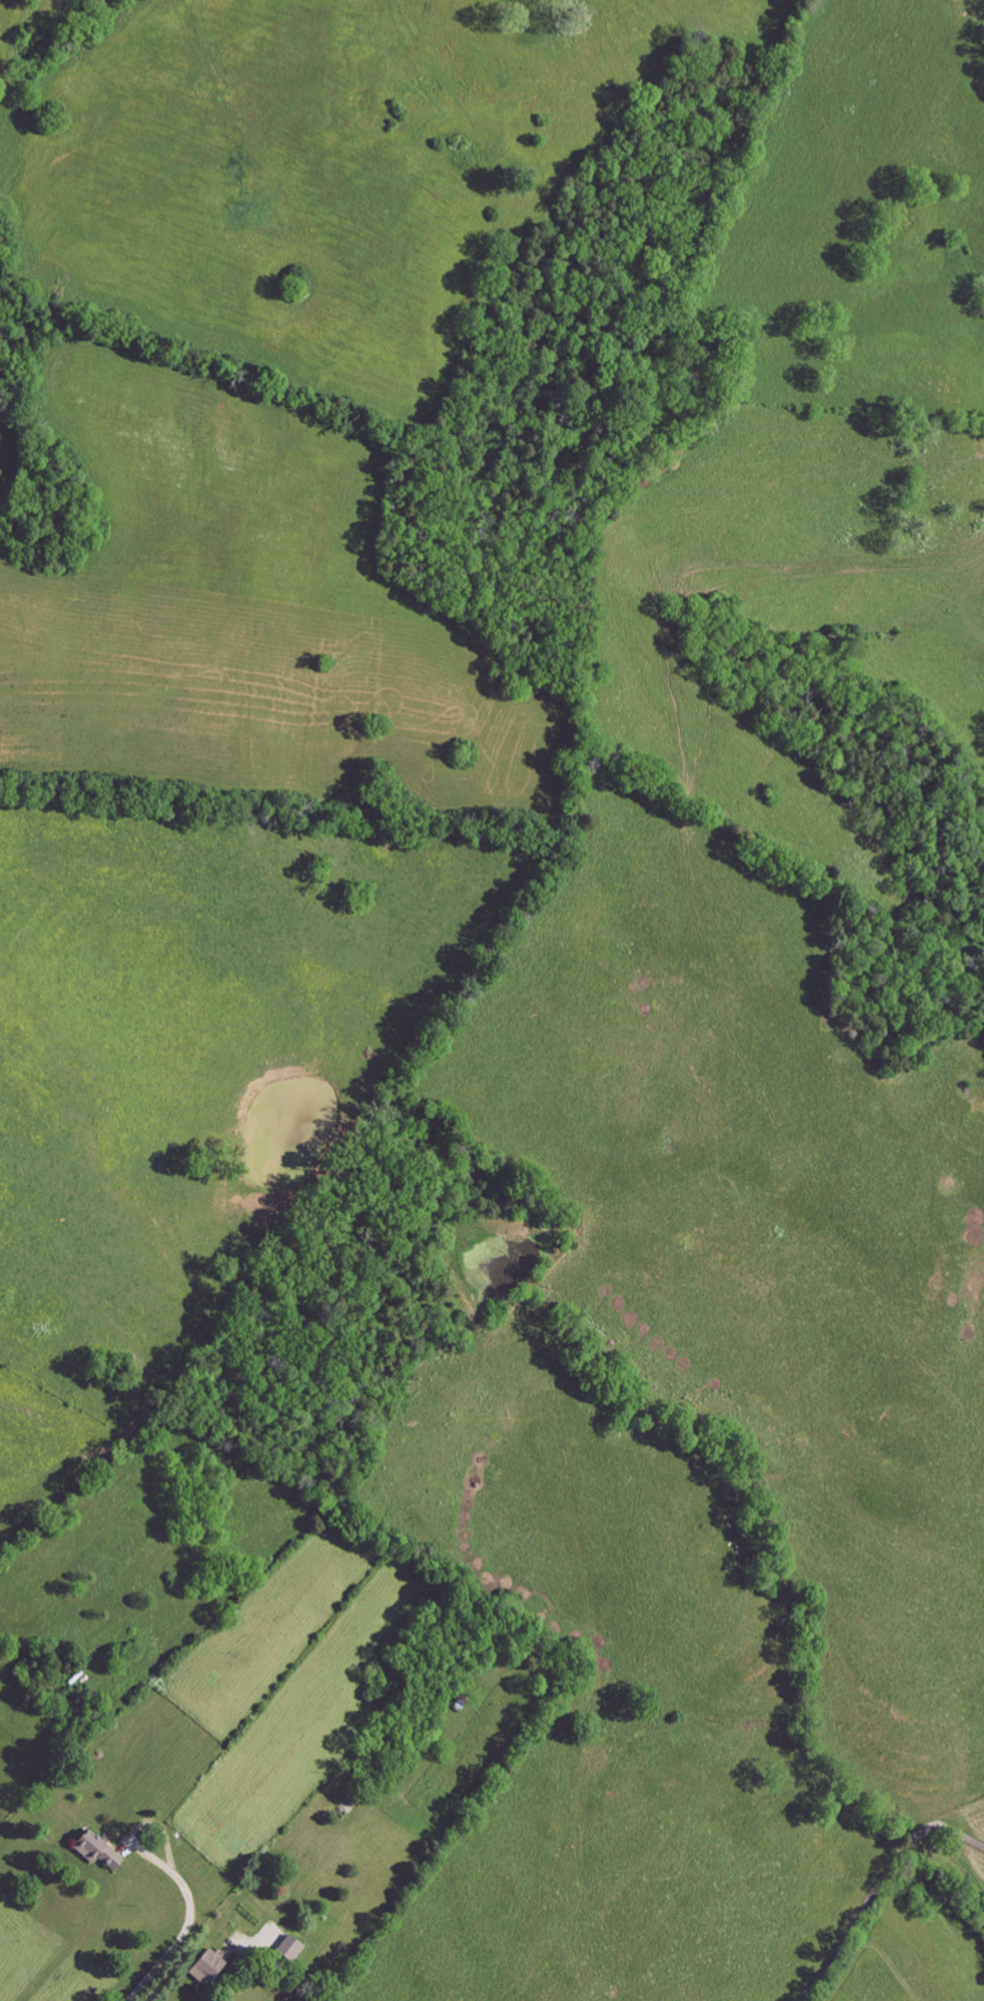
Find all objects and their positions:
building: (94, 1851)
road: (878, 1885)
road: (189, 1921)
building: (289, 1950)
building: (204, 1968)
road: (217, 1988)

